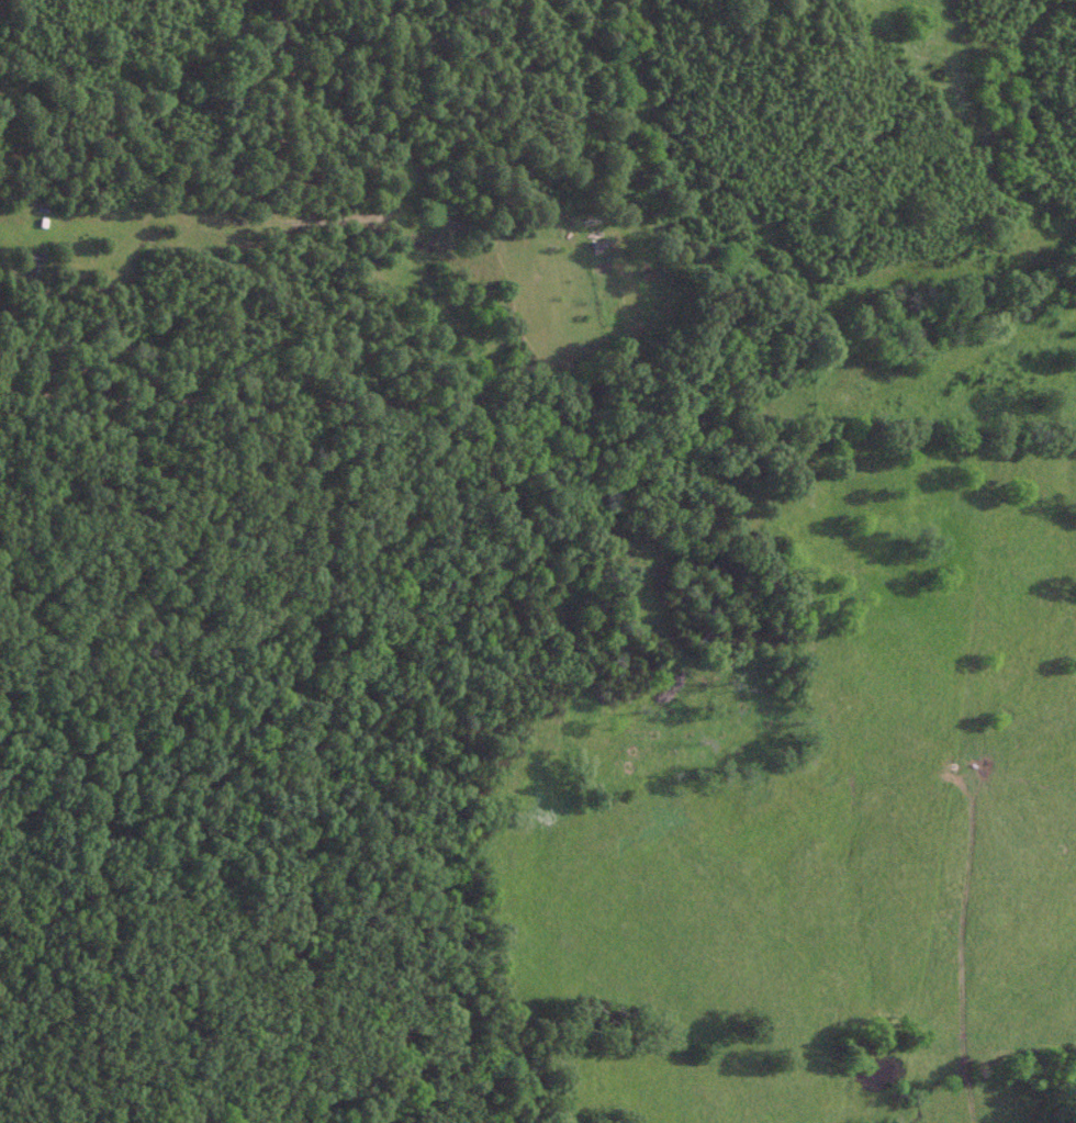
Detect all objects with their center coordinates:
building: (32, 257)

